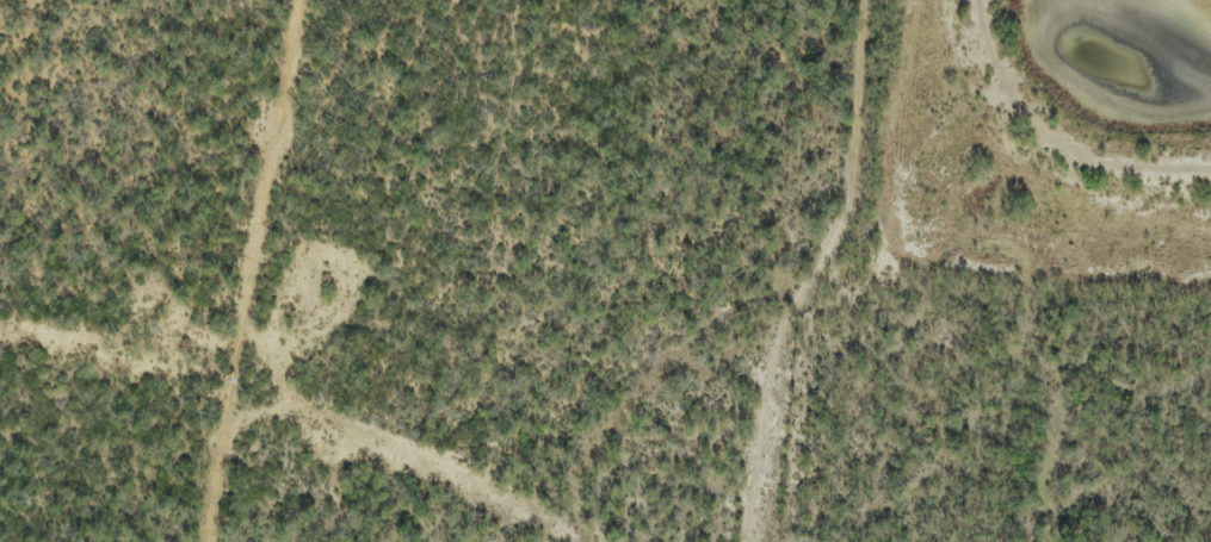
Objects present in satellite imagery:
road: (840, 269)

